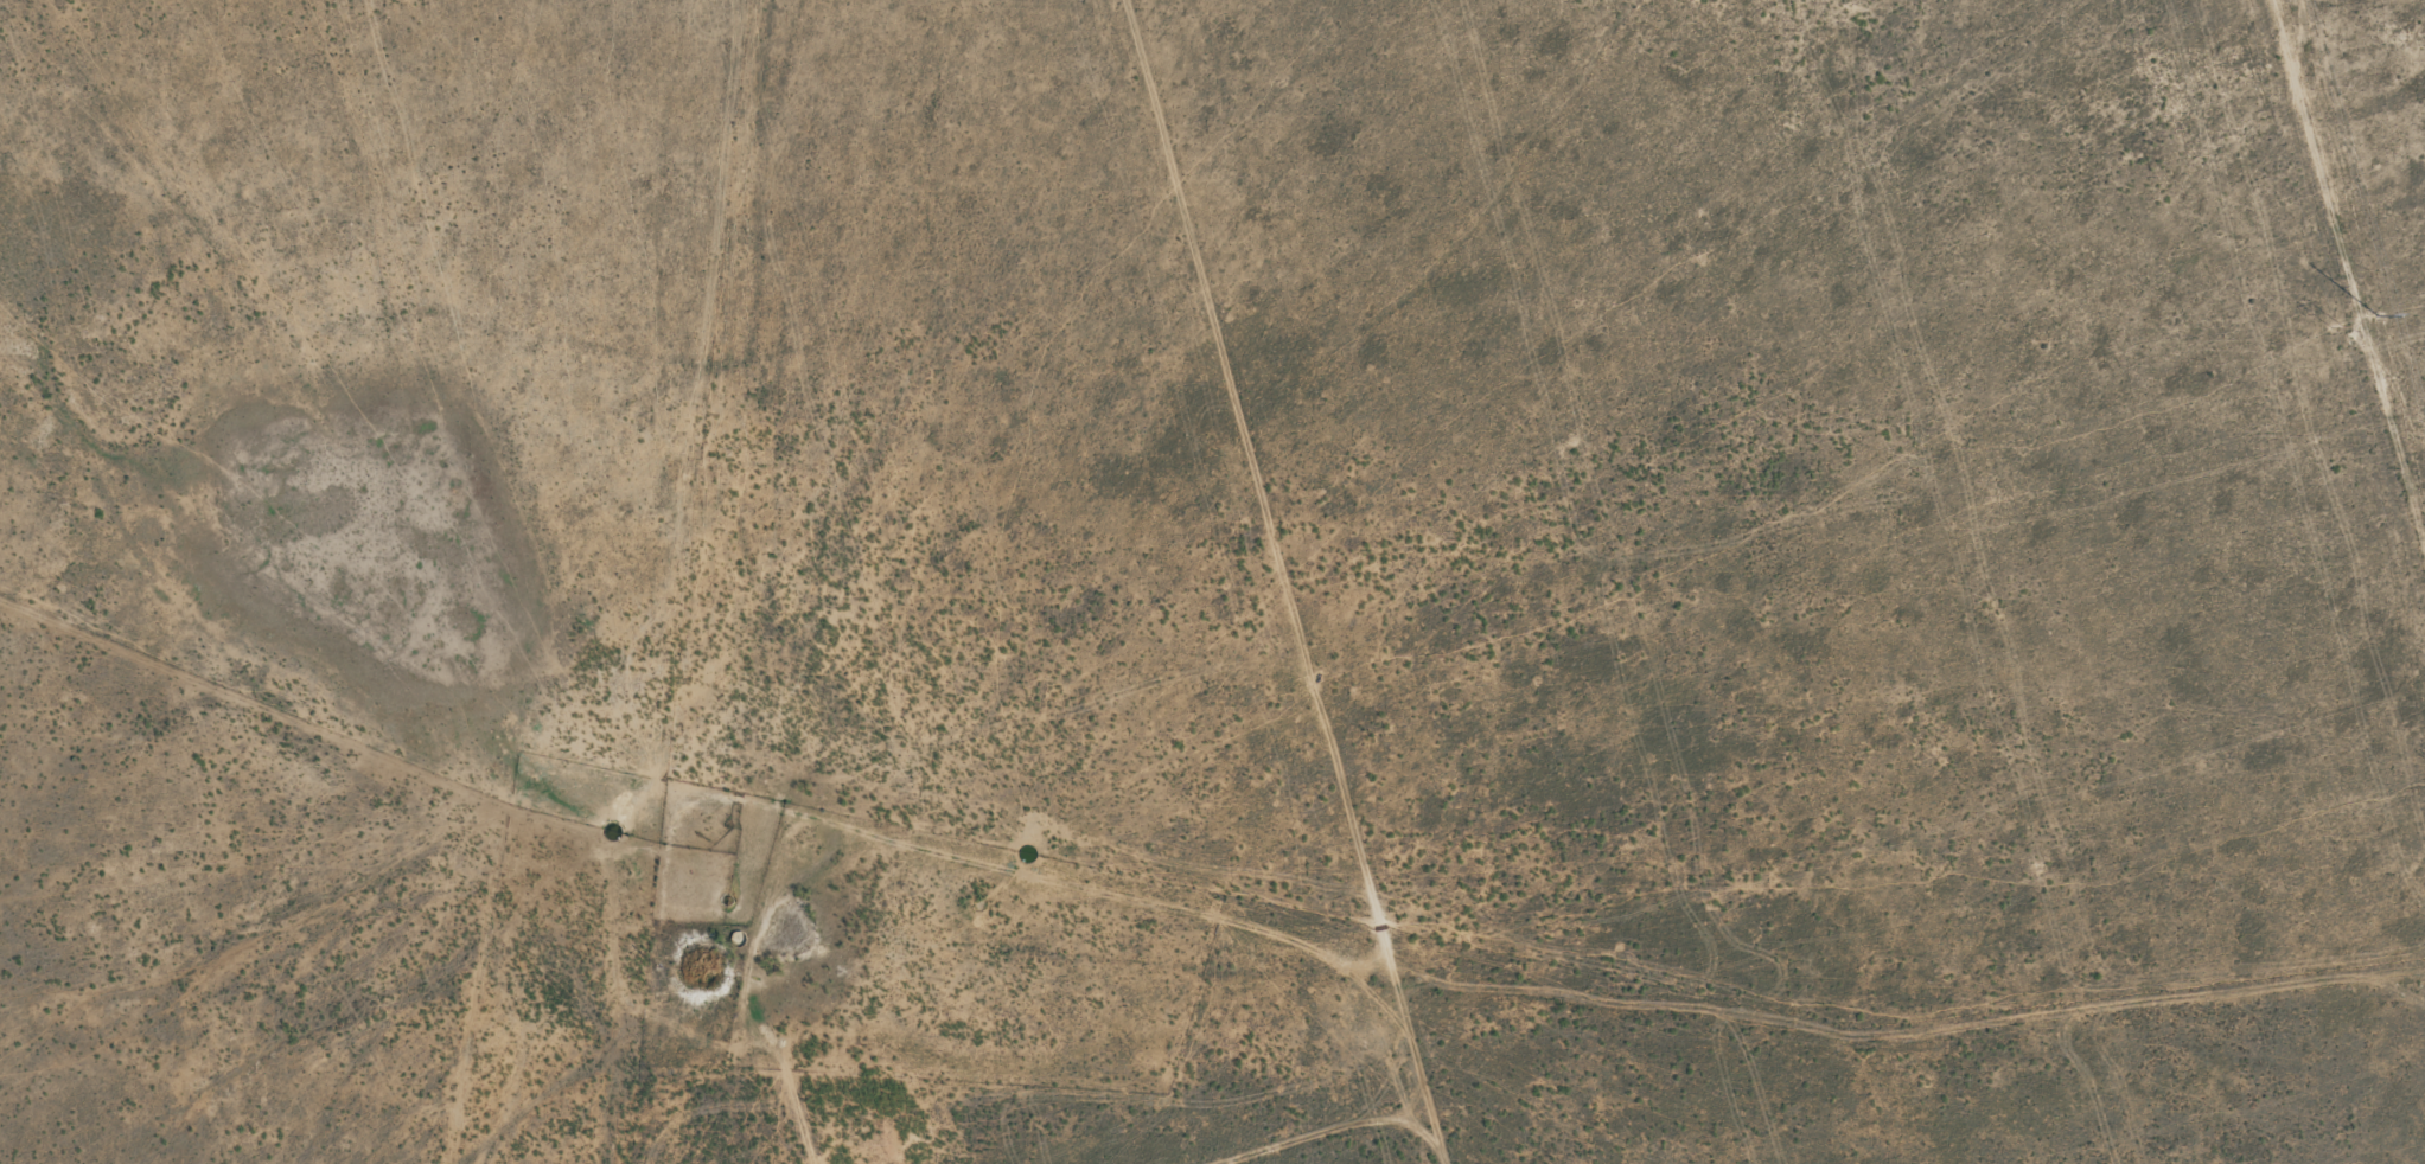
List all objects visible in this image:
power tower: (2378, 315)
power tower: (2331, 328)

